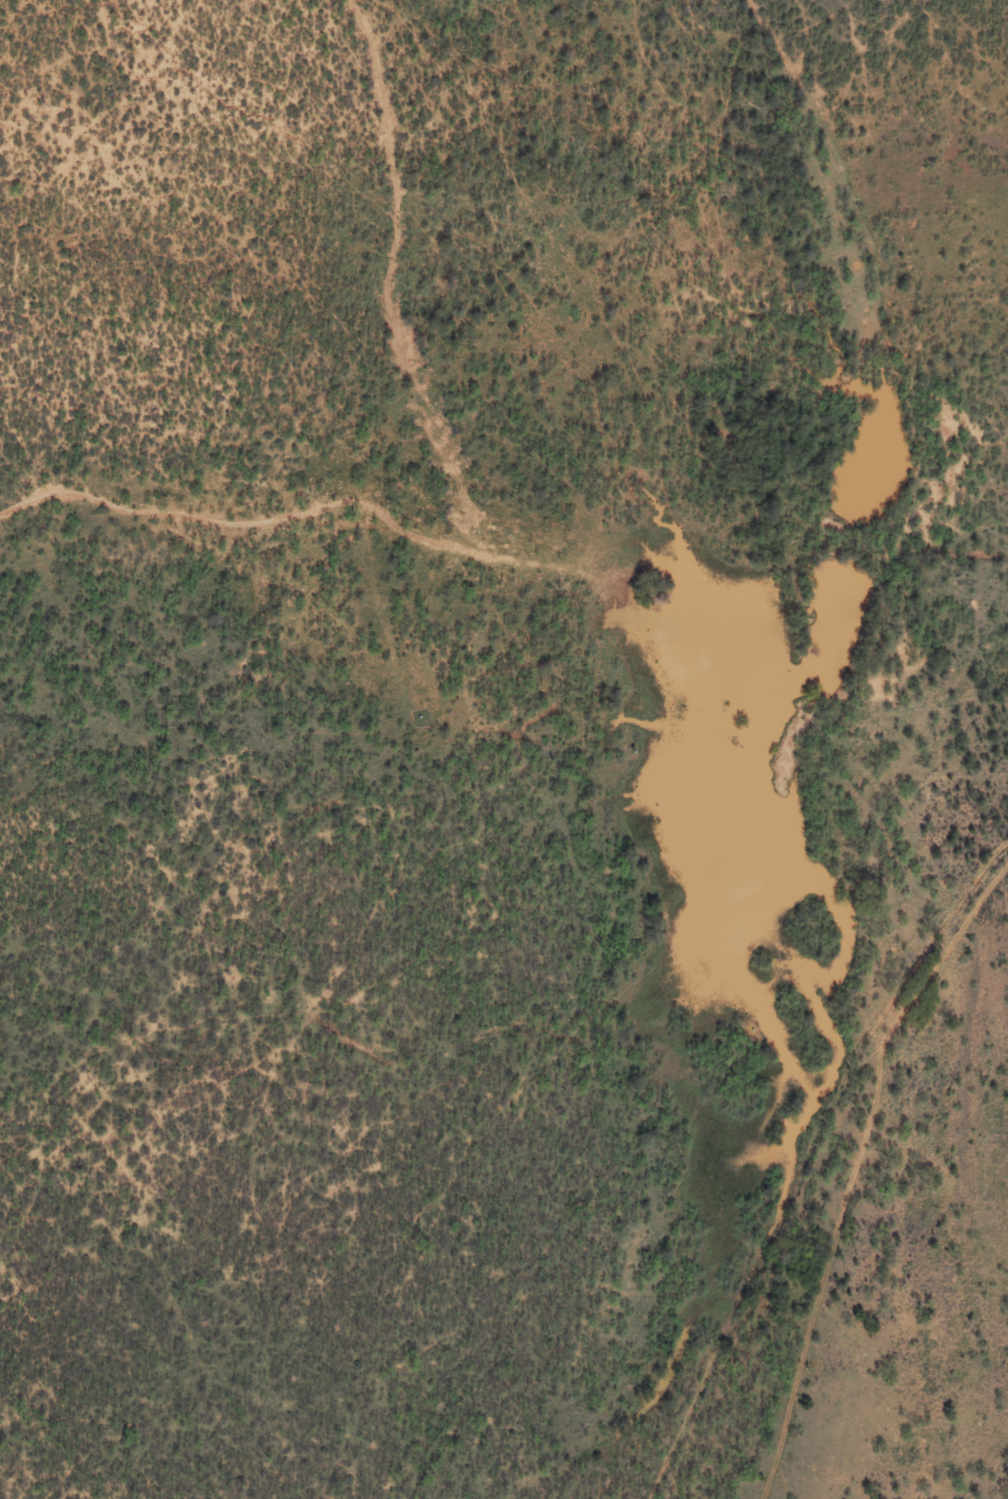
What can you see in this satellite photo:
road: (272, 1036)

